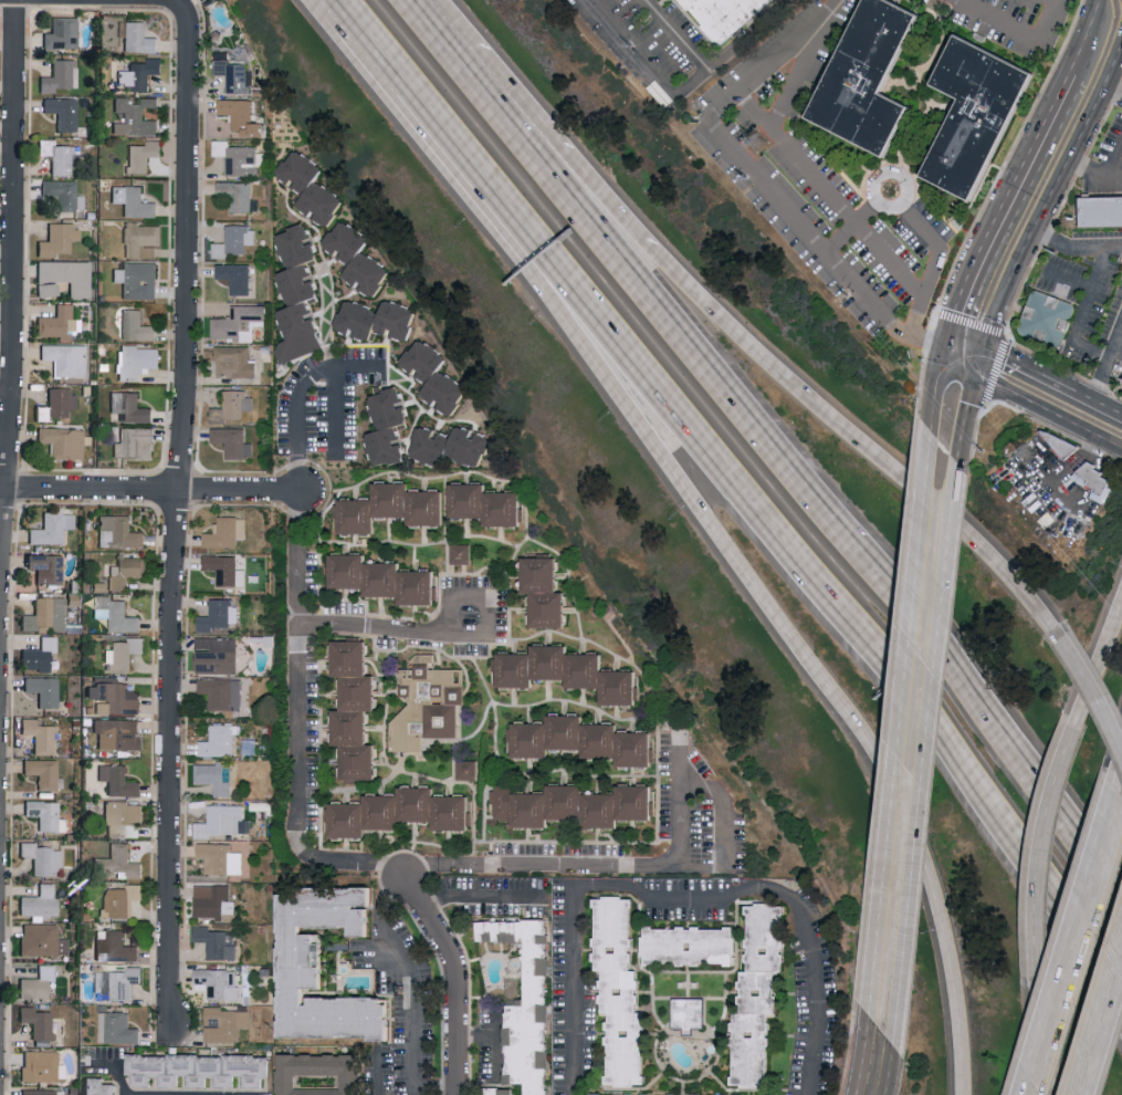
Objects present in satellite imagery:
road: (181, 3)
building: (726, 15)
road: (343, 17)
road: (1020, 29)
road: (432, 30)
building: (63, 33)
road: (679, 34)
building: (139, 38)
road: (1084, 38)
building: (139, 74)
building: (60, 75)
building: (234, 75)
road: (795, 76)
building: (875, 76)
road: (1112, 84)
road: (682, 93)
building: (63, 112)
building: (985, 112)
building: (241, 115)
building: (135, 116)
power tower: (754, 145)
building: (59, 155)
building: (143, 155)
building: (237, 157)
road: (557, 159)
road: (1114, 161)
road: (1093, 171)
road: (766, 175)
building: (312, 187)
road: (829, 189)
building: (64, 194)
building: (239, 195)
road: (1047, 197)
building: (134, 200)
road: (999, 209)
building: (1100, 211)
road: (916, 218)
road: (1053, 238)
building: (59, 239)
building: (143, 240)
building: (234, 241)
road: (1099, 249)
building: (358, 257)
building: (237, 277)
building: (64, 278)
building: (138, 279)
road: (1071, 280)
road: (10, 282)
building: (300, 294)
road: (1086, 315)
road: (325, 319)
building: (377, 320)
building: (1046, 321)
building: (59, 323)
building: (239, 323)
building: (136, 325)
road: (1116, 344)
traffic signals: (943, 350)
road: (960, 357)
building: (66, 358)
building: (138, 361)
building: (234, 362)
traffic signals: (977, 365)
building: (437, 376)
road: (1049, 377)
road: (1102, 378)
road: (333, 386)
road: (972, 389)
road: (932, 392)
building: (57, 404)
building: (232, 406)
building: (130, 407)
road: (1047, 407)
road: (298, 418)
building: (389, 426)
road: (962, 440)
building: (63, 441)
building: (233, 441)
road: (858, 441)
building: (136, 442)
building: (452, 446)
power tower: (1024, 455)
road: (1080, 458)
road: (927, 474)
road: (795, 481)
road: (151, 486)
road: (943, 490)
building: (487, 504)
road: (754, 505)
building: (428, 507)
building: (374, 508)
road: (176, 513)
building: (53, 529)
building: (118, 531)
building: (227, 532)
road: (717, 540)
building: (462, 553)
building: (48, 567)
building: (226, 570)
building: (126, 571)
building: (386, 578)
building: (546, 592)
building: (116, 614)
building: (46, 615)
building: (219, 616)
road: (457, 635)
building: (124, 653)
building: (217, 654)
building: (40, 655)
road: (1100, 659)
building: (569, 671)
road: (1094, 689)
building: (44, 690)
building: (222, 691)
building: (114, 697)
building: (428, 703)
building: (356, 709)
road: (298, 724)
building: (118, 733)
building: (40, 736)
building: (219, 740)
building: (585, 740)
building: (466, 769)
road: (908, 771)
building: (43, 772)
building: (212, 776)
building: (119, 781)
building: (574, 805)
building: (401, 812)
building: (46, 815)
building: (124, 820)
building: (223, 821)
road: (722, 843)
road: (1040, 845)
building: (43, 857)
building: (220, 858)
building: (119, 863)
road: (602, 867)
road: (783, 893)
road: (482, 895)
building: (120, 900)
building: (212, 900)
building: (41, 903)
building: (43, 940)
building: (218, 941)
building: (114, 946)
building: (692, 946)
road: (1078, 950)
building: (306, 976)
road: (413, 976)
road: (458, 981)
building: (118, 982)
building: (219, 982)
building: (38, 983)
road: (574, 990)
building: (621, 992)
building: (761, 993)
building: (528, 1004)
building: (690, 1014)
building: (38, 1022)
building: (224, 1023)
building: (117, 1028)
road: (1103, 1034)
road: (1038, 1037)
road: (878, 1061)
building: (40, 1065)
road: (122, 1065)
building: (201, 1070)
road: (375, 1071)
building: (321, 1074)
road: (437, 1085)
building: (101, 1086)
building: (500, 1091)
building: (42, 1092)
building: (602, 1094)

